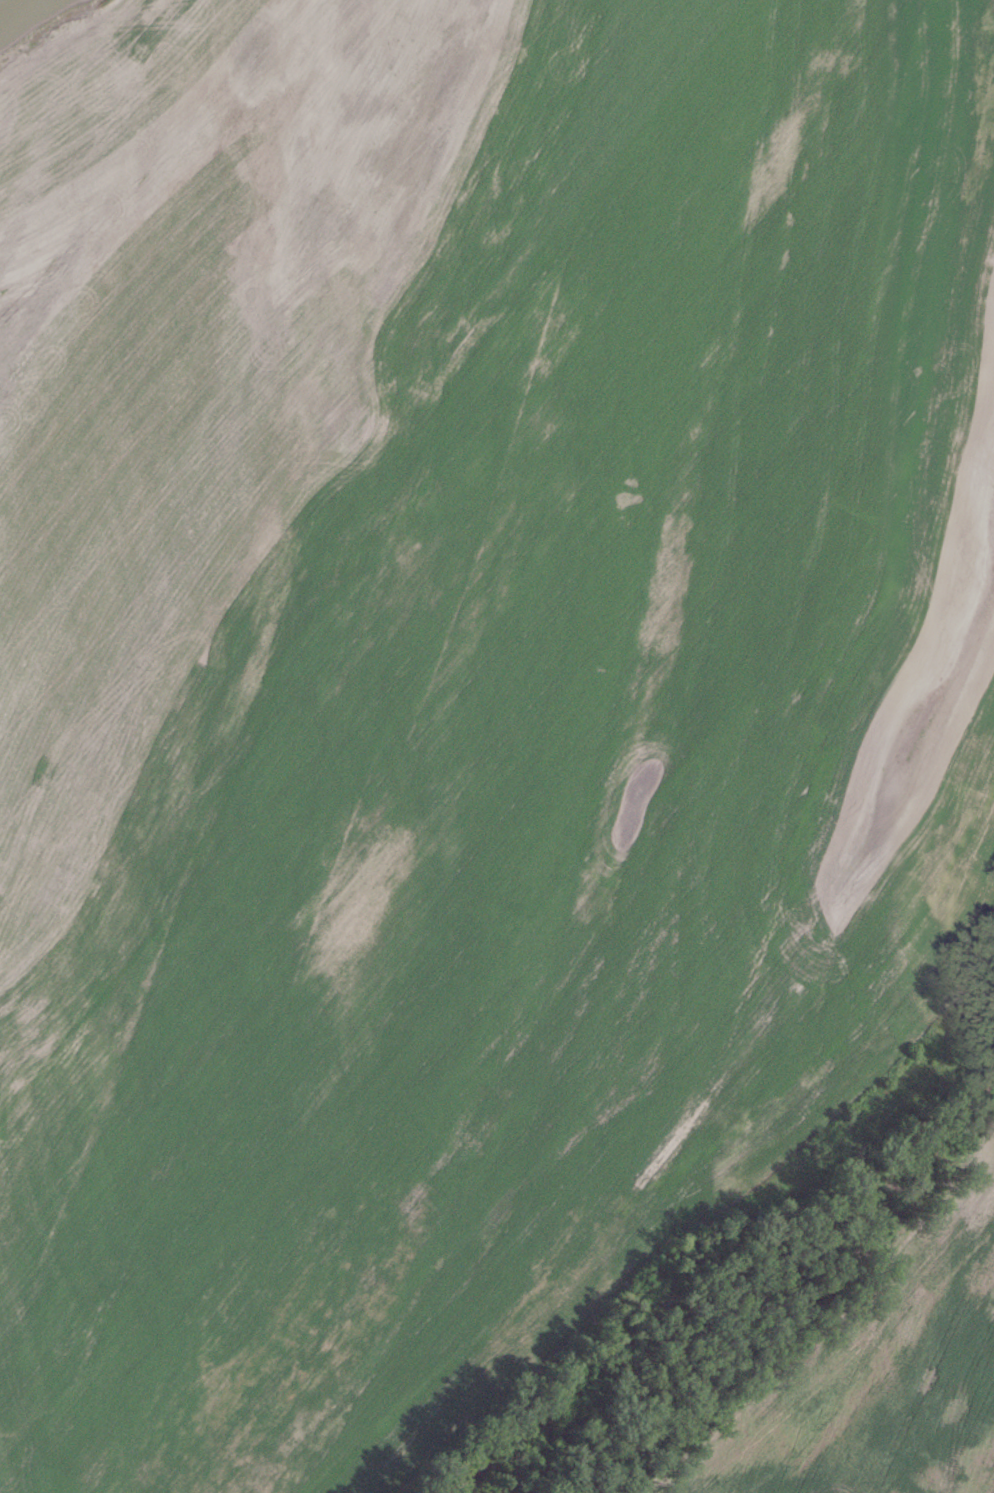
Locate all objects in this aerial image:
crop: (463, 680)
crop: (882, 1368)

